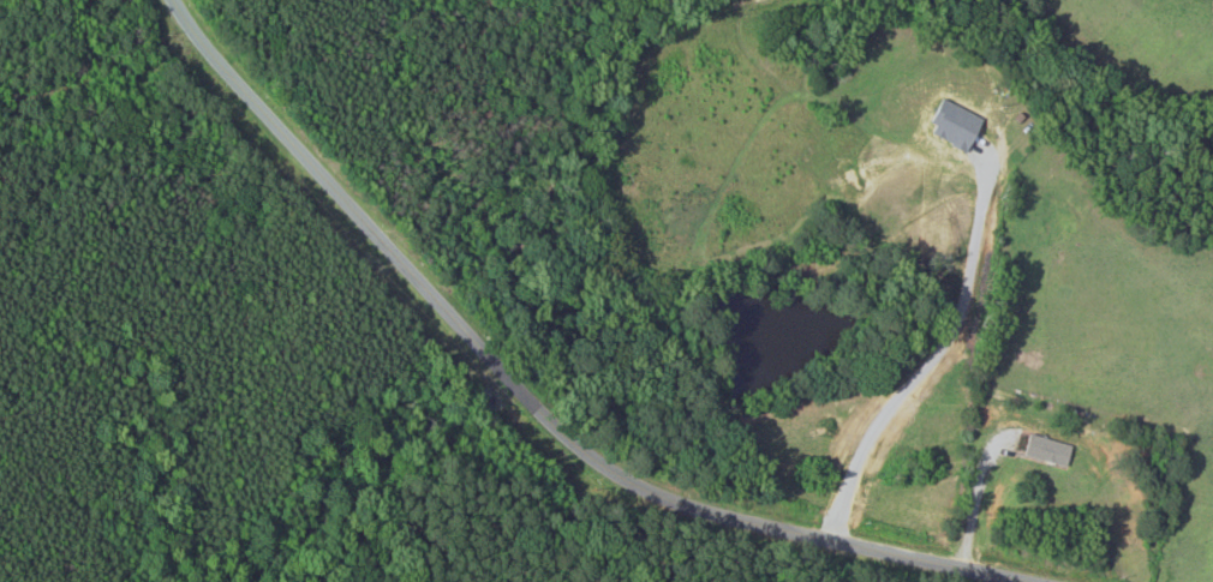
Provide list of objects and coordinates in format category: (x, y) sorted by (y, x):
road: (536, 406)

